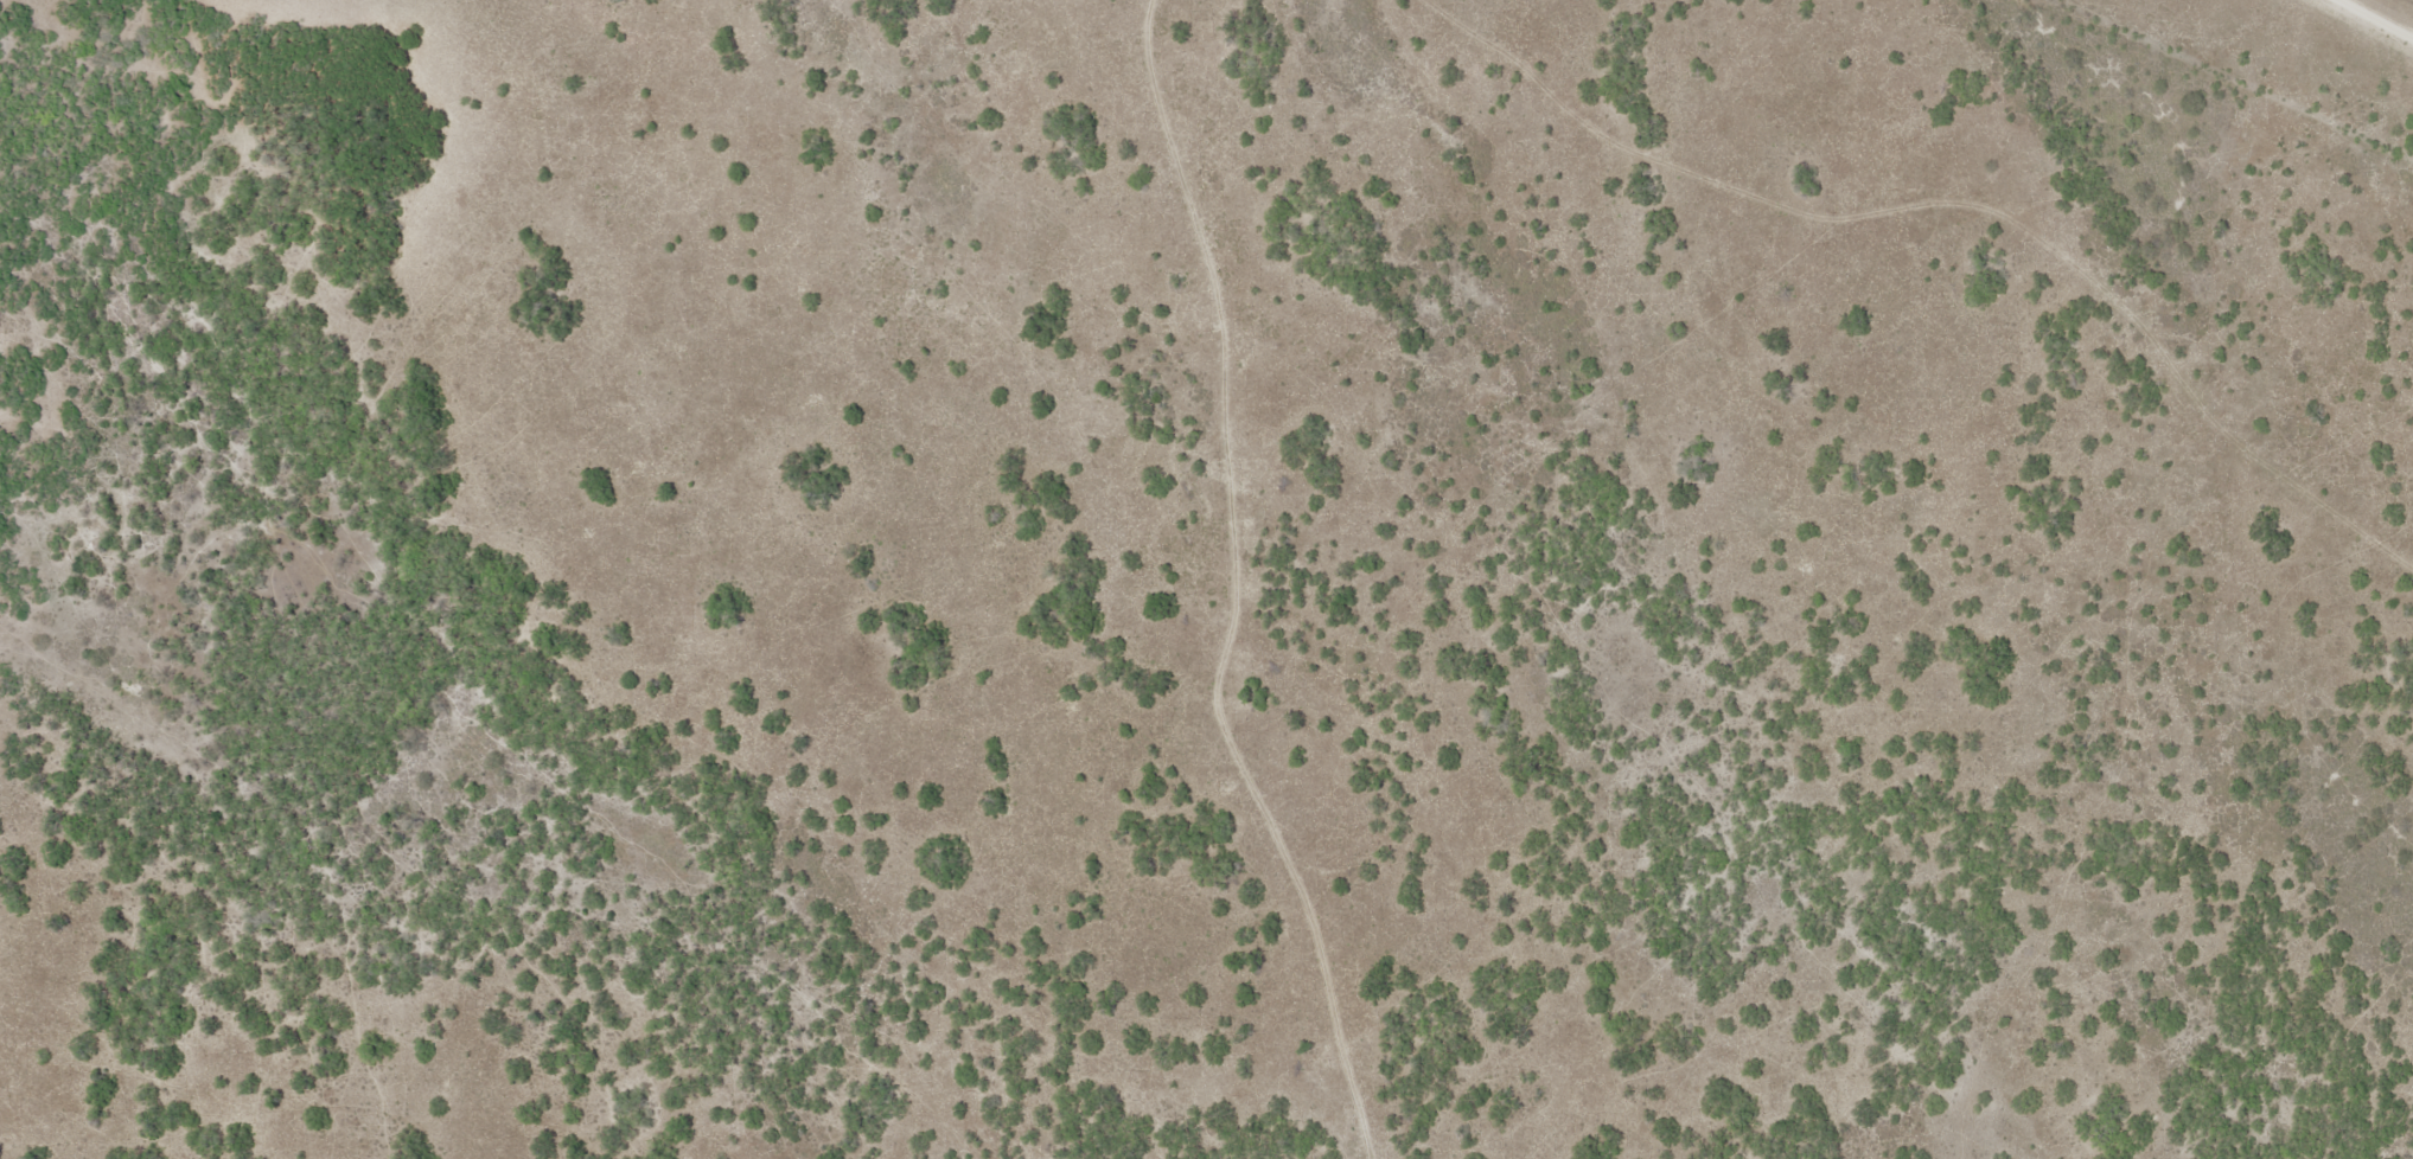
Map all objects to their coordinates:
road: (2348, 33)

